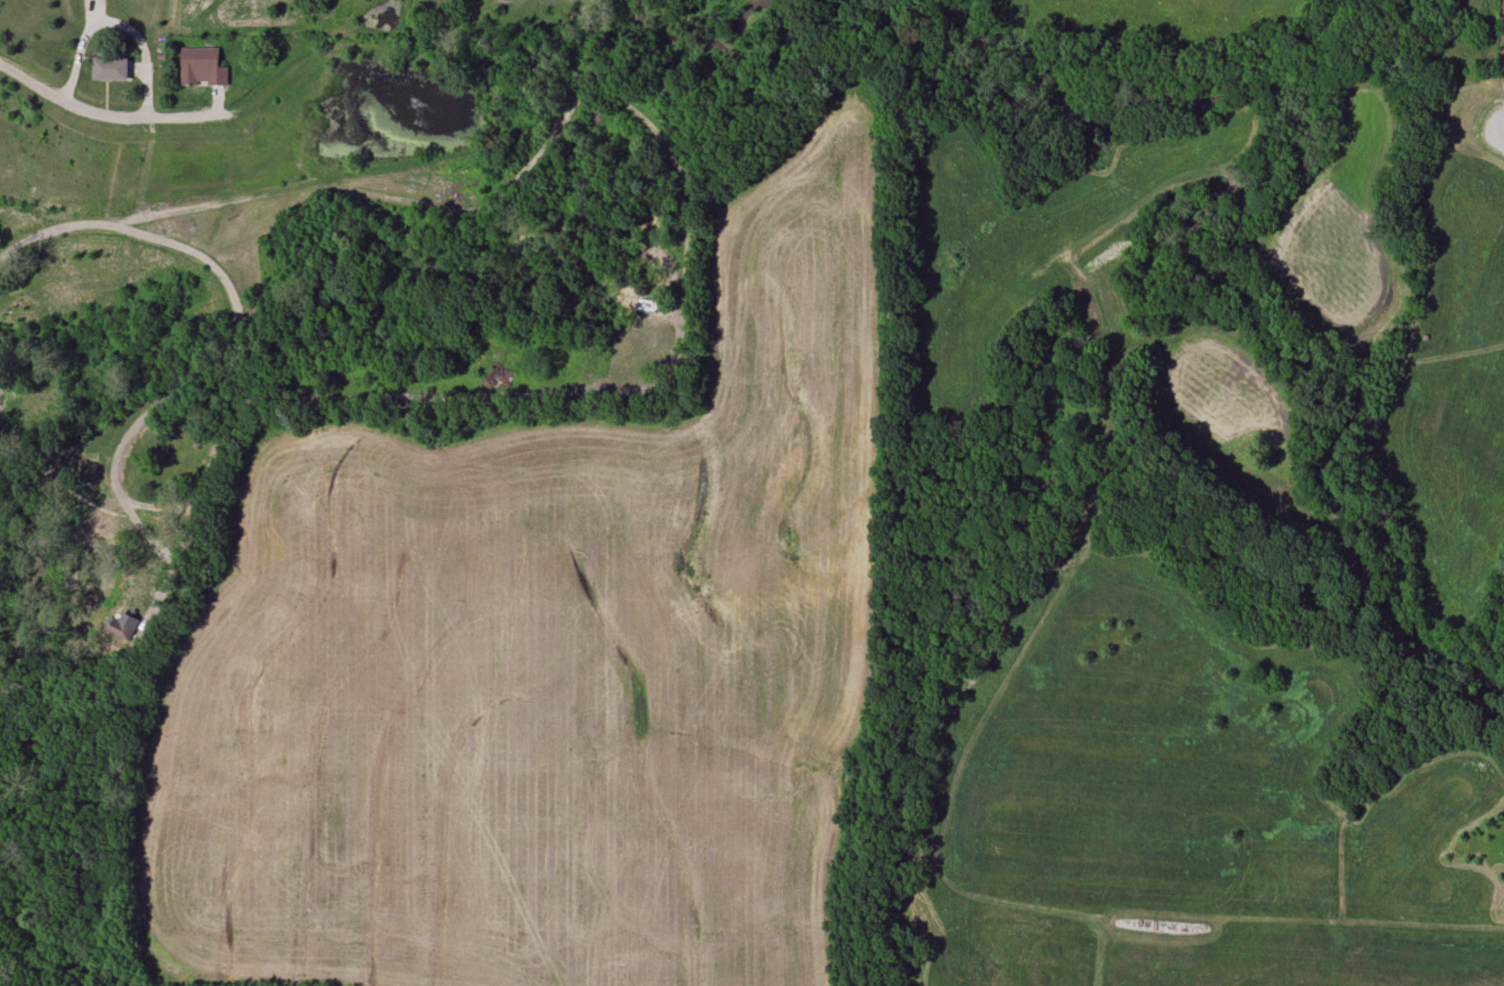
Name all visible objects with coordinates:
road: (140, 46)
building: (201, 68)
building: (109, 70)
road: (32, 82)
river: (1209, 210)
road: (233, 356)
road: (1, 375)
building: (125, 626)

